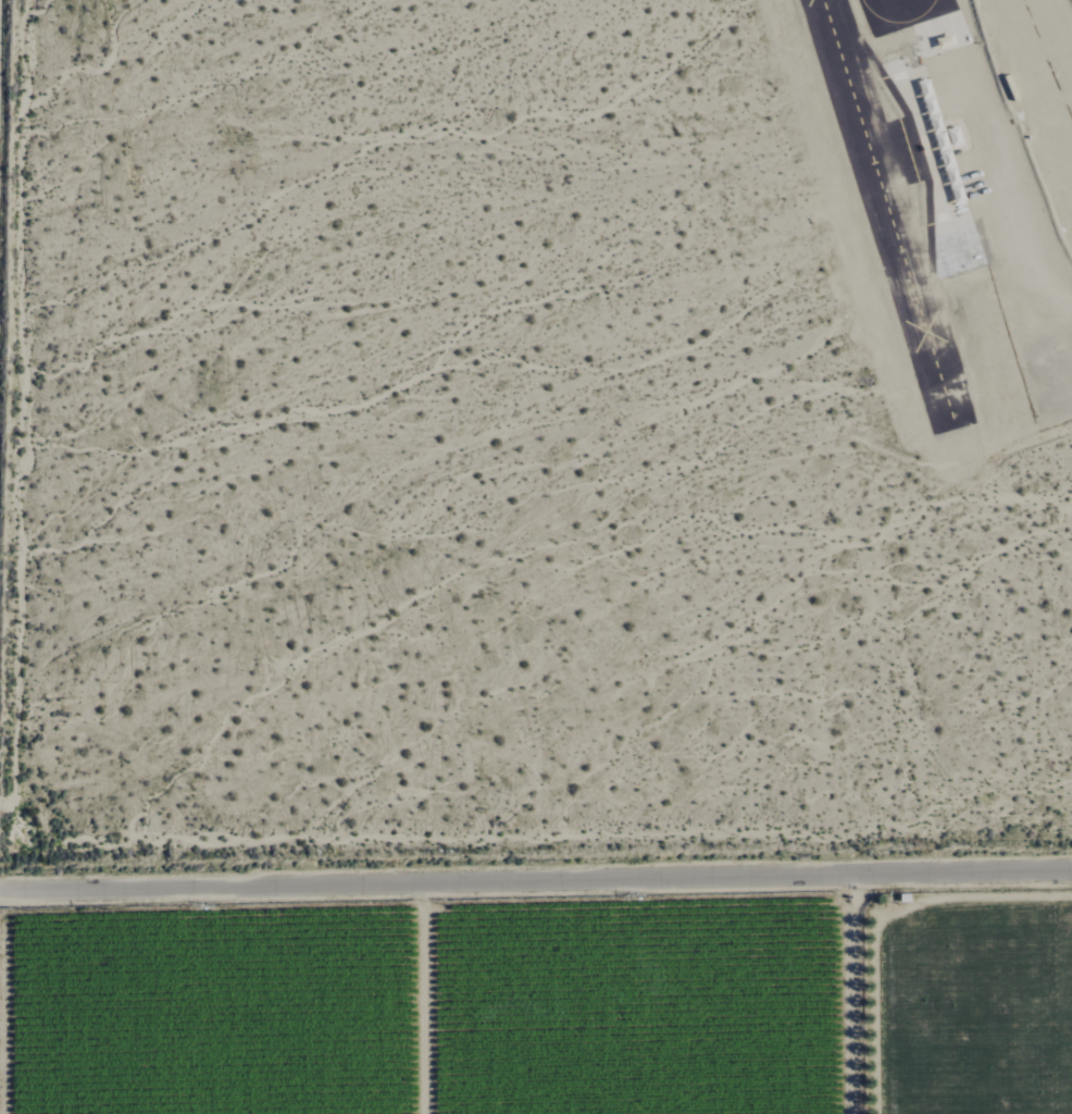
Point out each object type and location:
park: (902, 13)
building: (945, 39)
building: (919, 54)
building: (1011, 86)
building: (924, 87)
parking lot: (1036, 95)
building: (930, 104)
flagpole: (948, 119)
building: (935, 122)
building: (955, 135)
building: (940, 139)
building: (946, 157)
building: (951, 174)
road: (1004, 188)
building: (958, 191)
road: (1036, 400)
road: (535, 882)
road: (851, 994)

